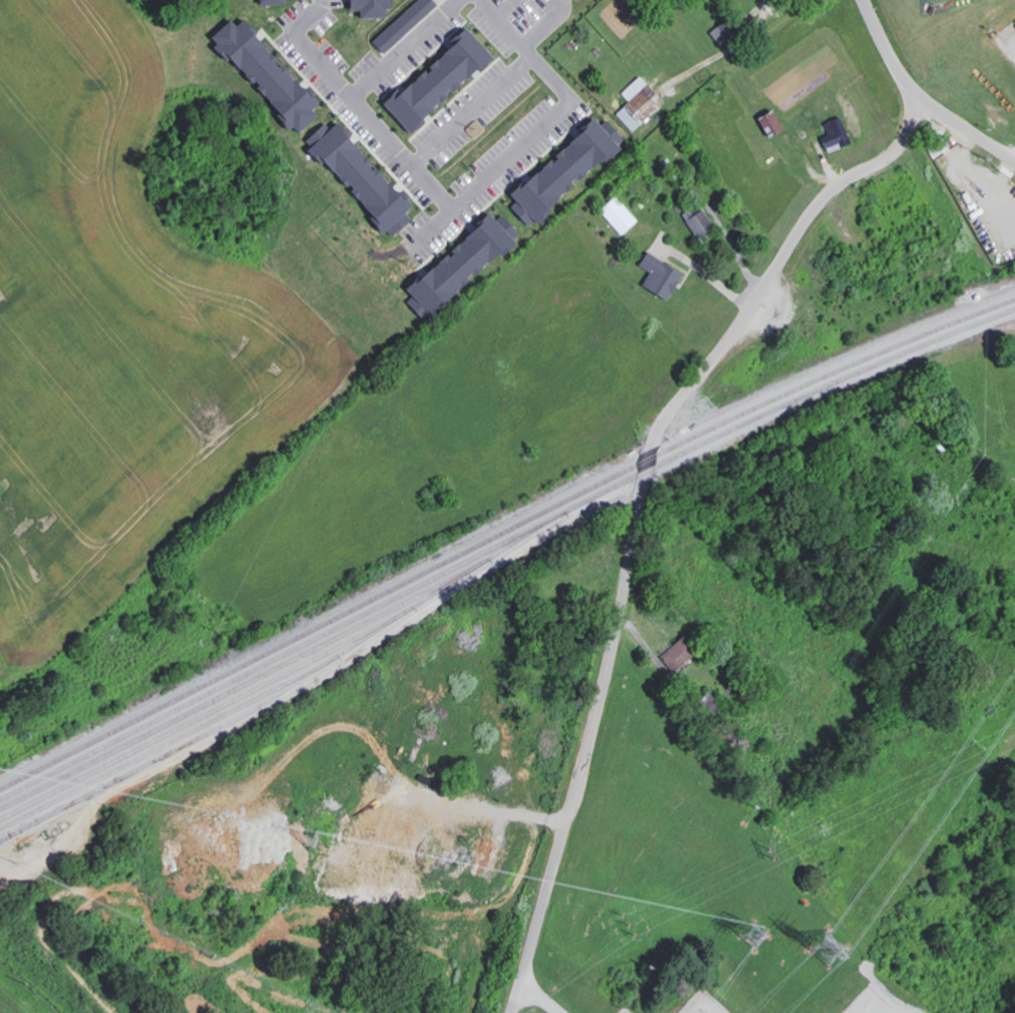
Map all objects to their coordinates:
building: (271, 0)
building: (366, 7)
road: (548, 24)
building: (401, 29)
building: (729, 31)
building: (263, 78)
building: (439, 79)
road: (354, 88)
road: (921, 95)
building: (637, 103)
road: (474, 111)
crop: (789, 116)
building: (768, 125)
building: (840, 134)
road: (502, 160)
building: (564, 179)
building: (361, 181)
building: (616, 218)
building: (701, 221)
building: (456, 270)
building: (664, 275)
crop: (124, 335)
crop: (489, 392)
road: (639, 508)
railway: (501, 533)
railway: (502, 545)
building: (681, 654)
railway: (244, 686)
railway: (290, 688)
railway: (208, 713)
railway: (170, 741)
power tower: (755, 937)
power tower: (827, 950)
power substation: (868, 1003)
power substation: (704, 1004)

